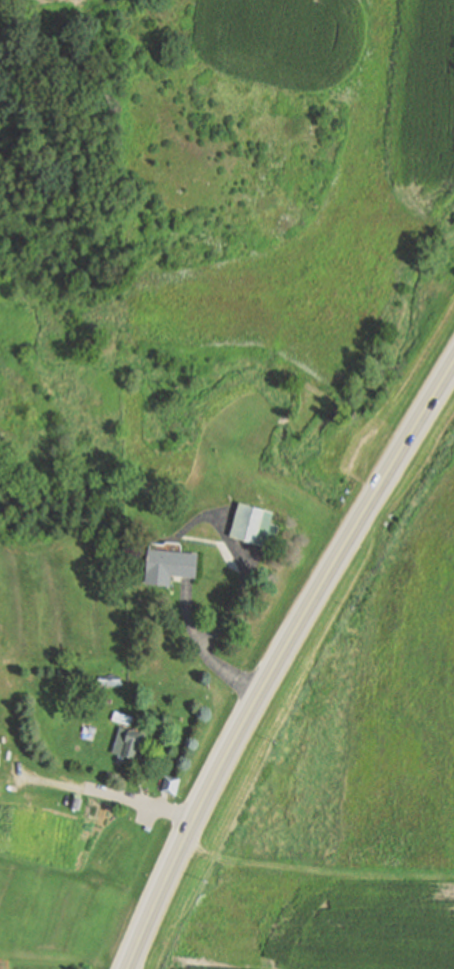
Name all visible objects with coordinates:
road: (397, 19)
crop: (269, 140)
building: (251, 523)
building: (169, 565)
road: (203, 649)
road: (277, 659)
building: (109, 680)
building: (129, 741)
building: (170, 784)
road: (104, 792)
building: (75, 801)
crop: (369, 803)

